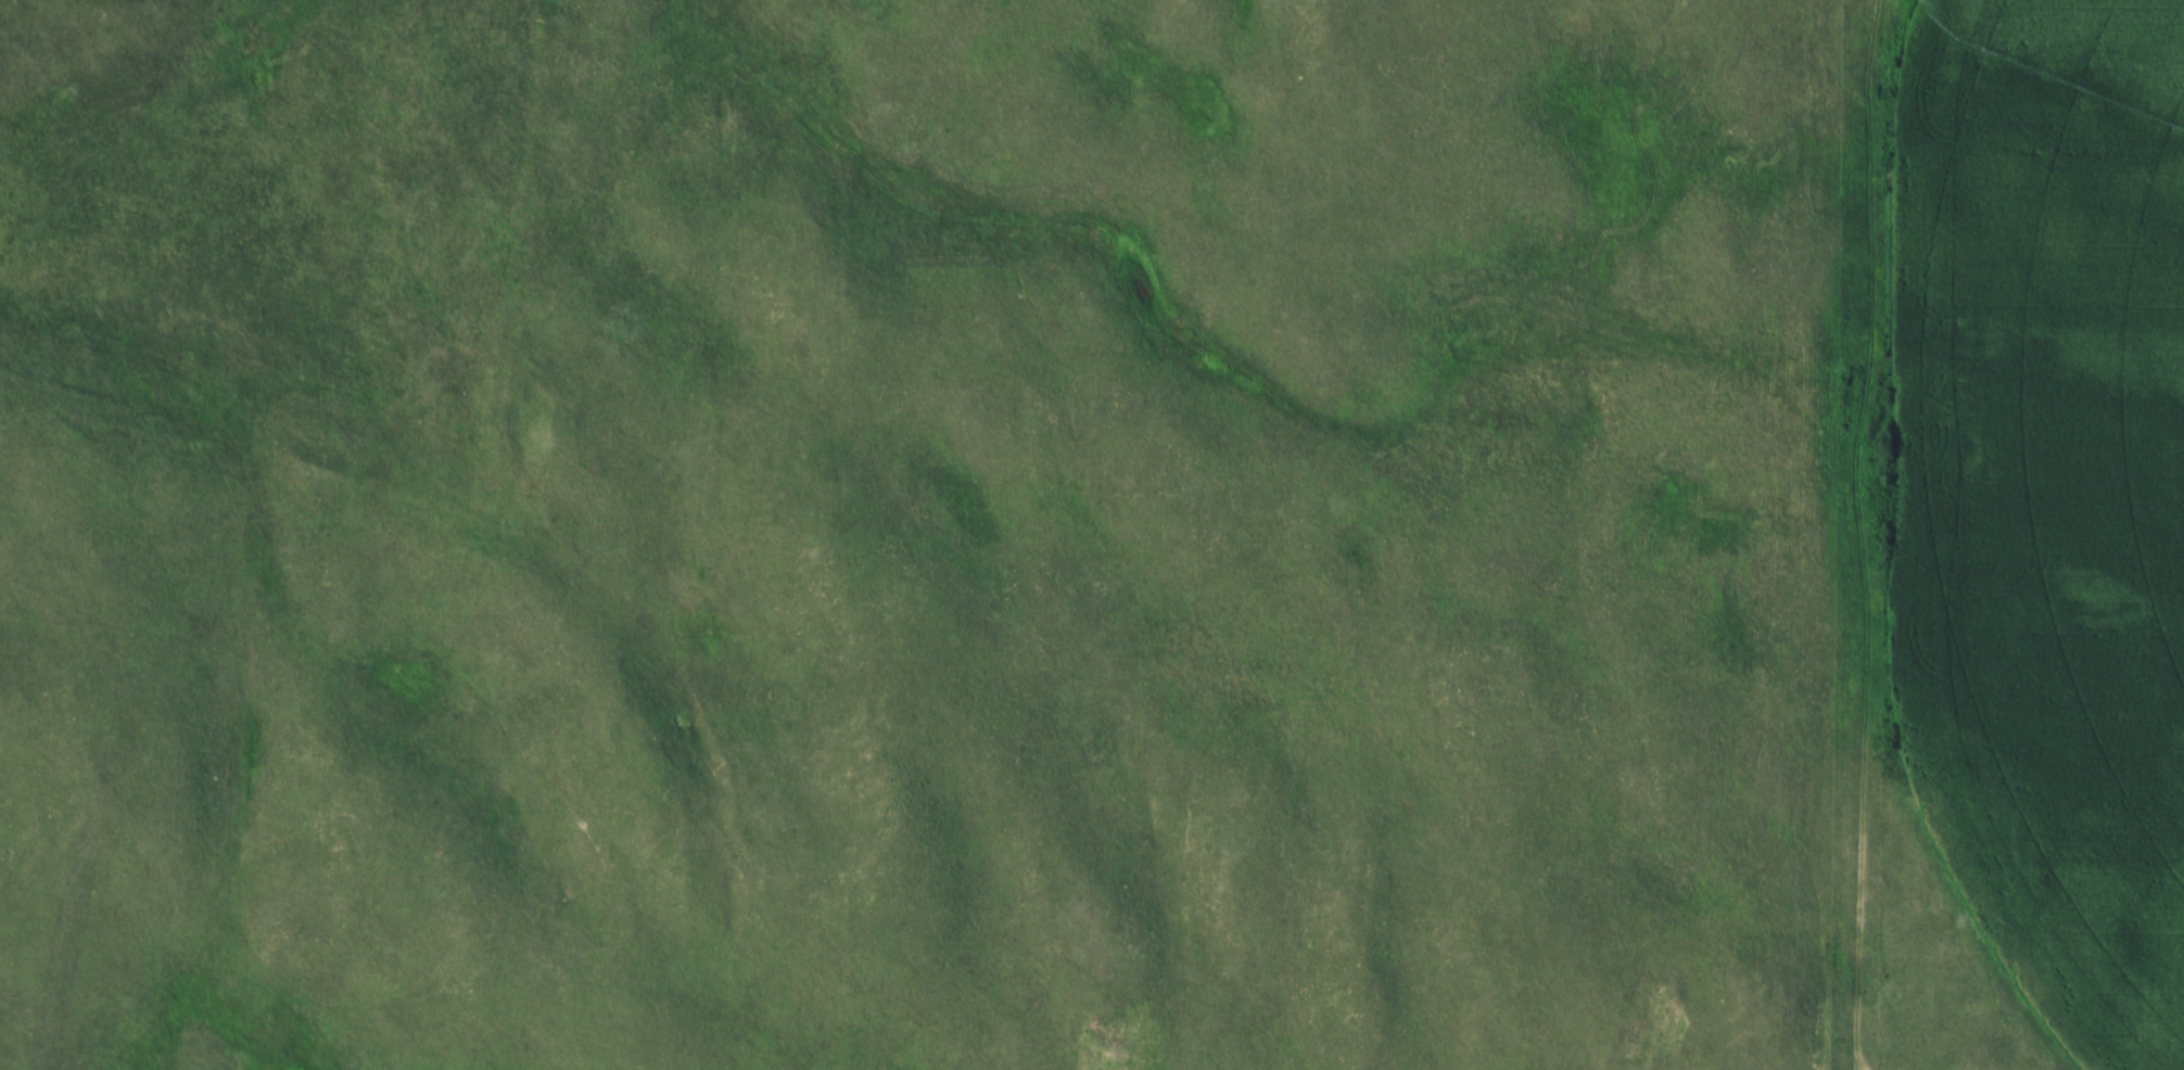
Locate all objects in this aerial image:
road: (1877, 535)

